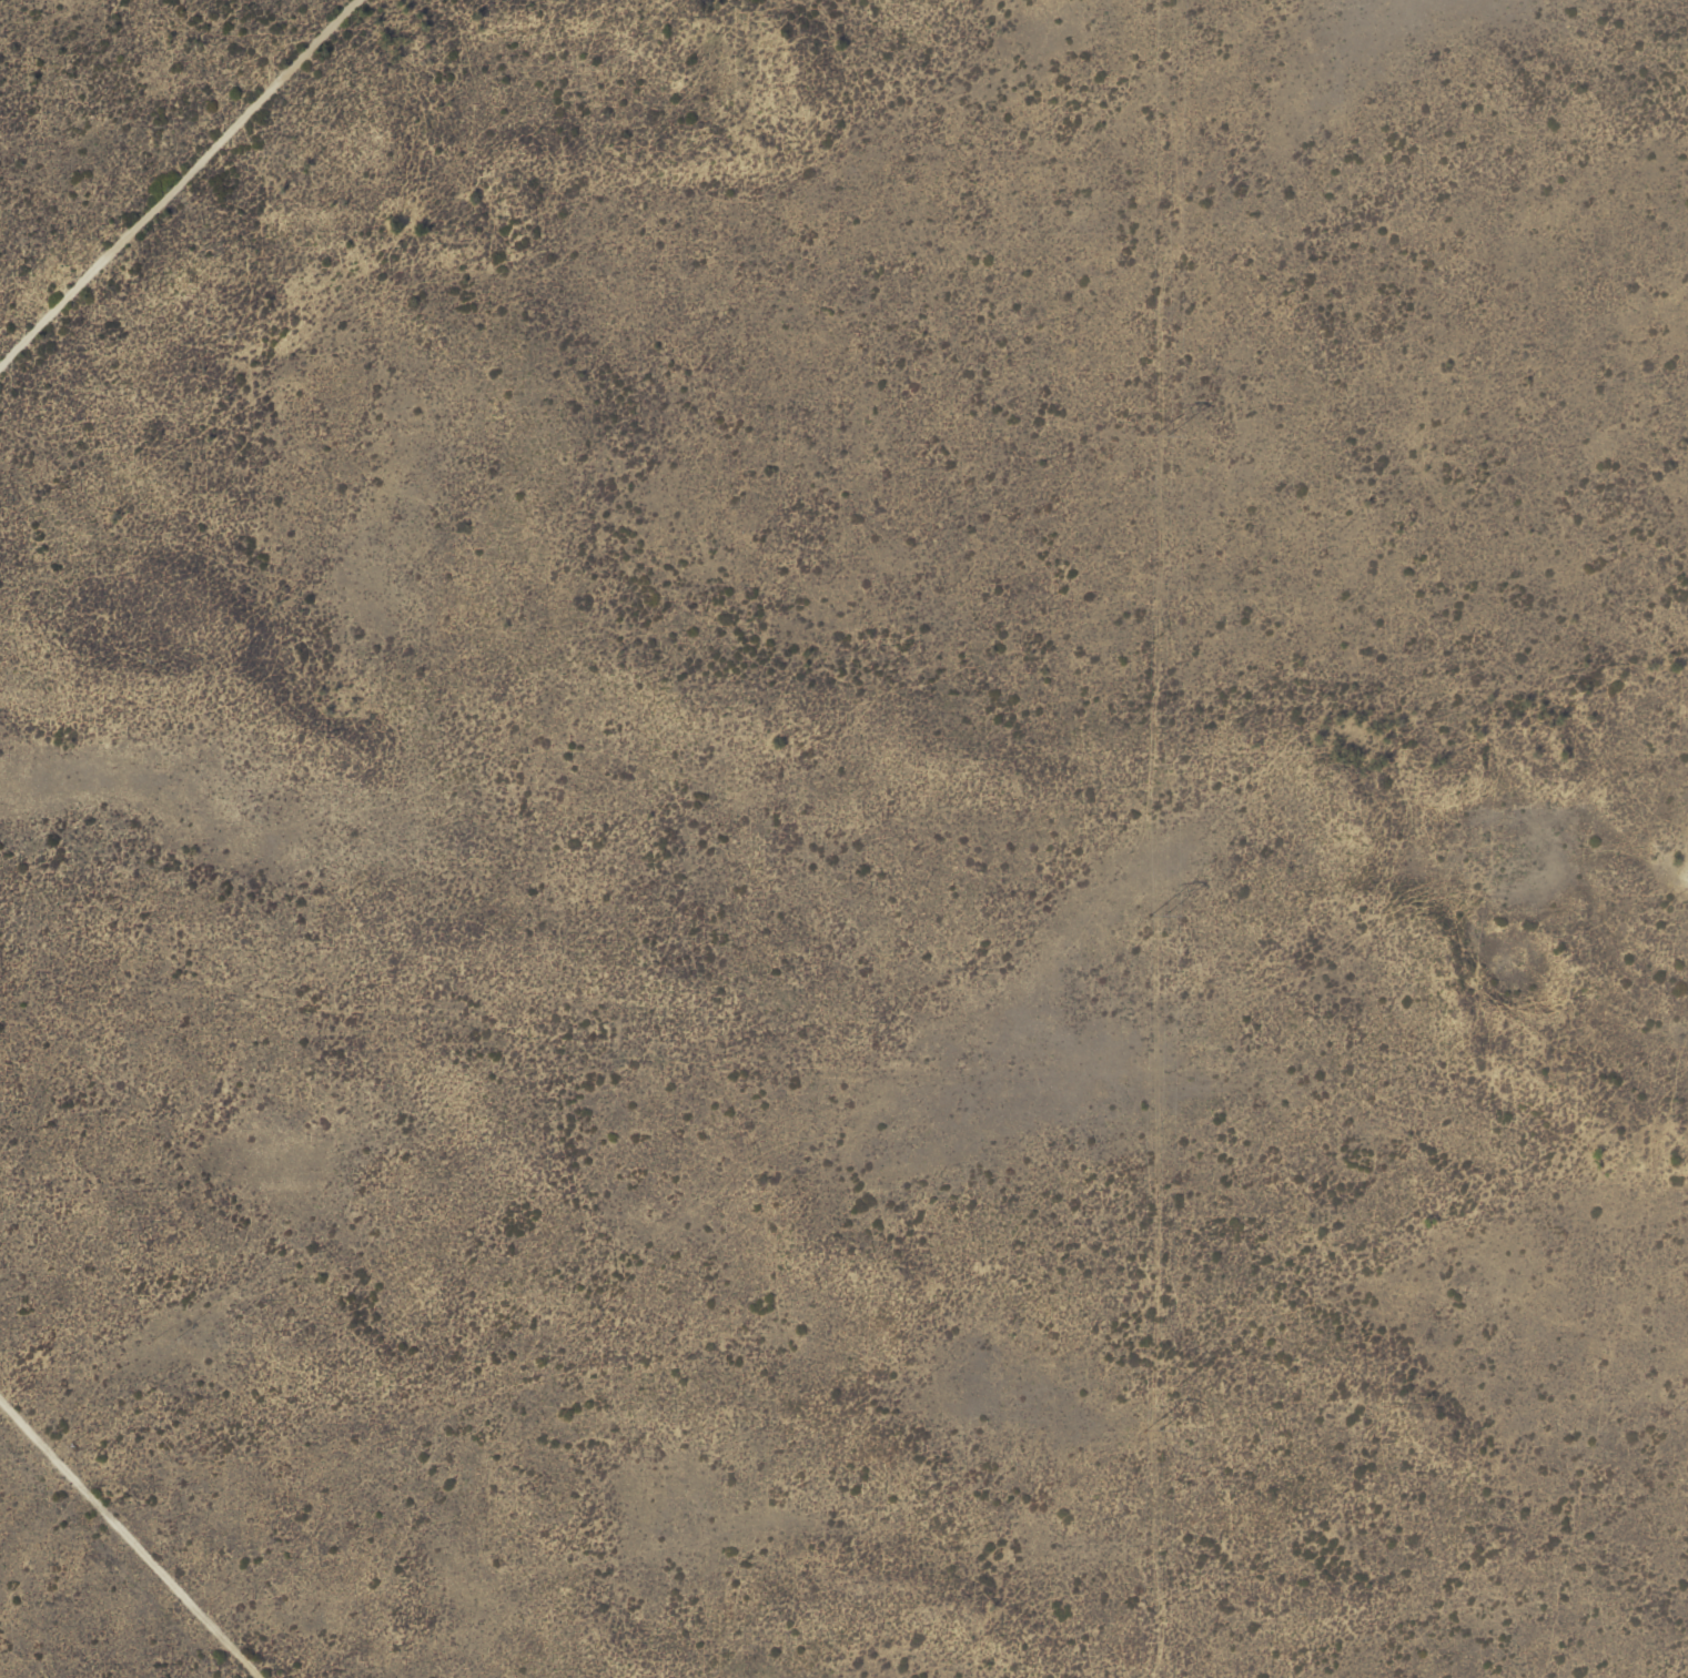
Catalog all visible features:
power tower: (1156, 435)
power tower: (1152, 917)
power tower: (1148, 1427)

